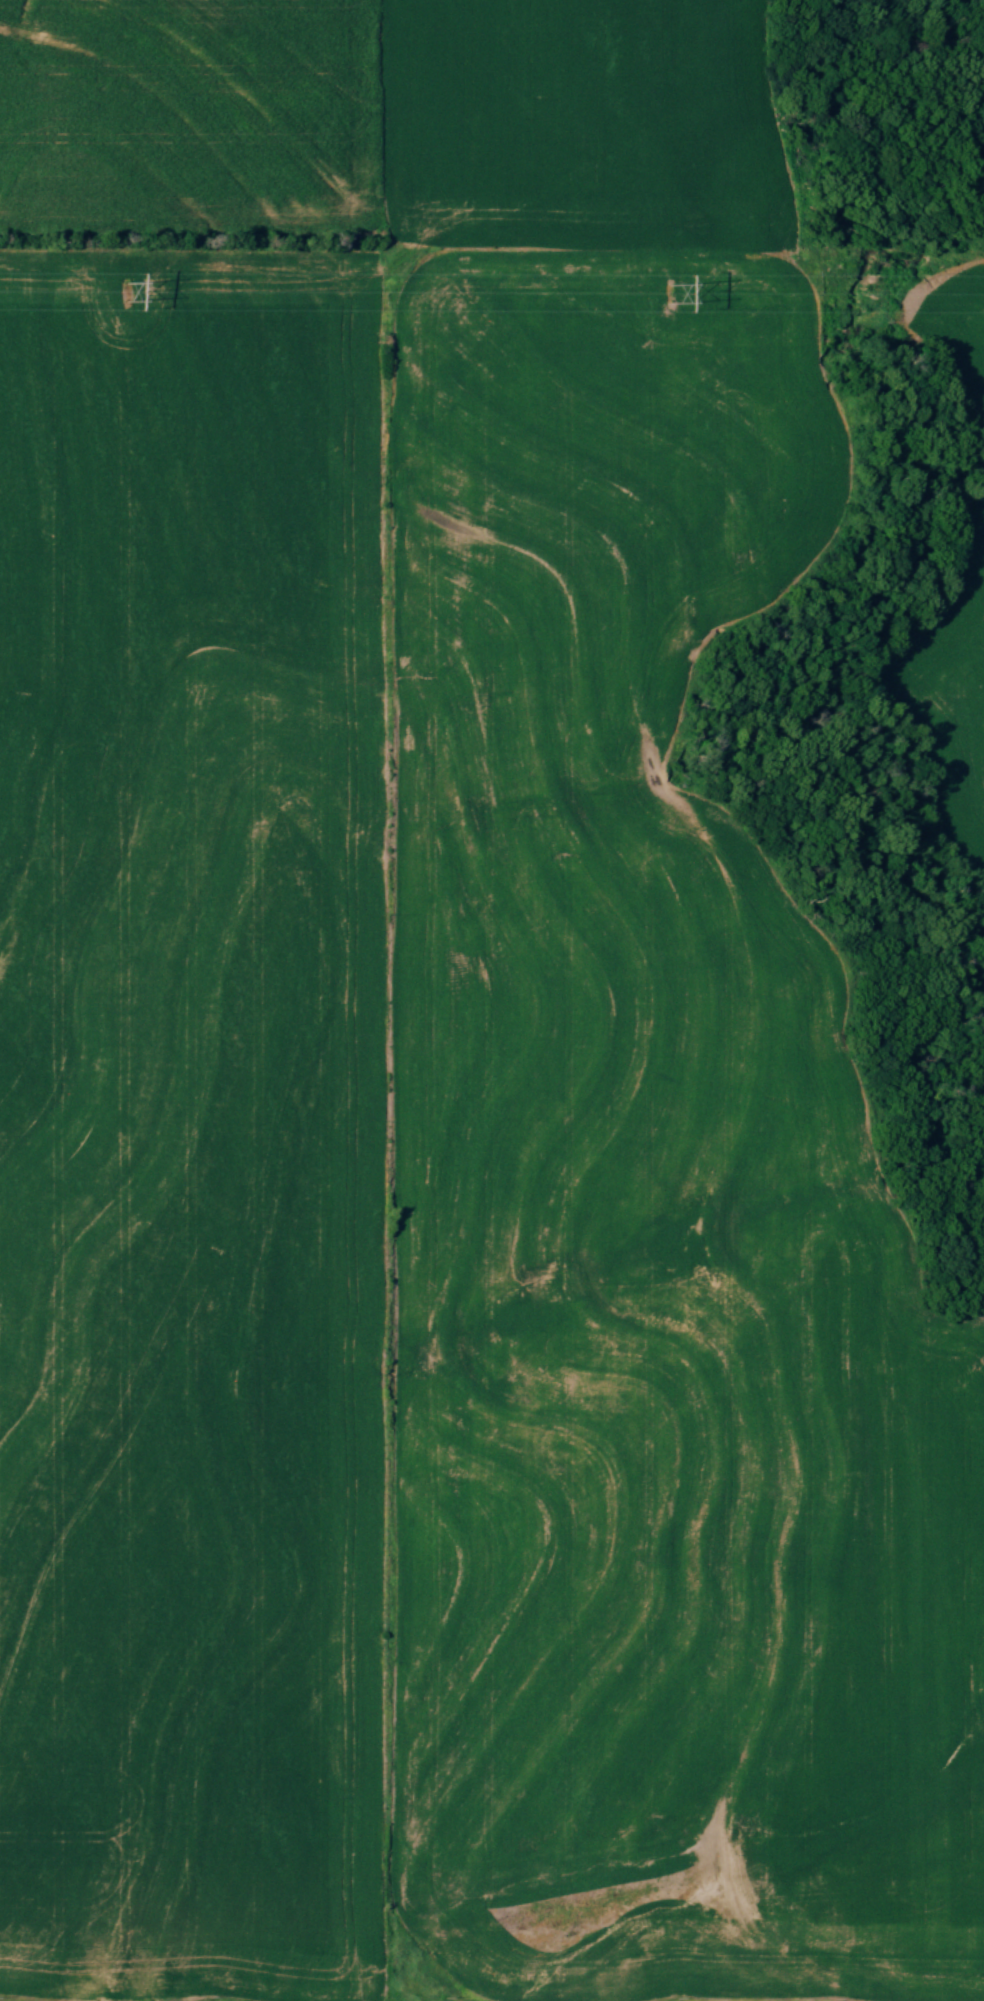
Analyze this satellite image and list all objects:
power tower: (128, 292)
power tower: (669, 293)

